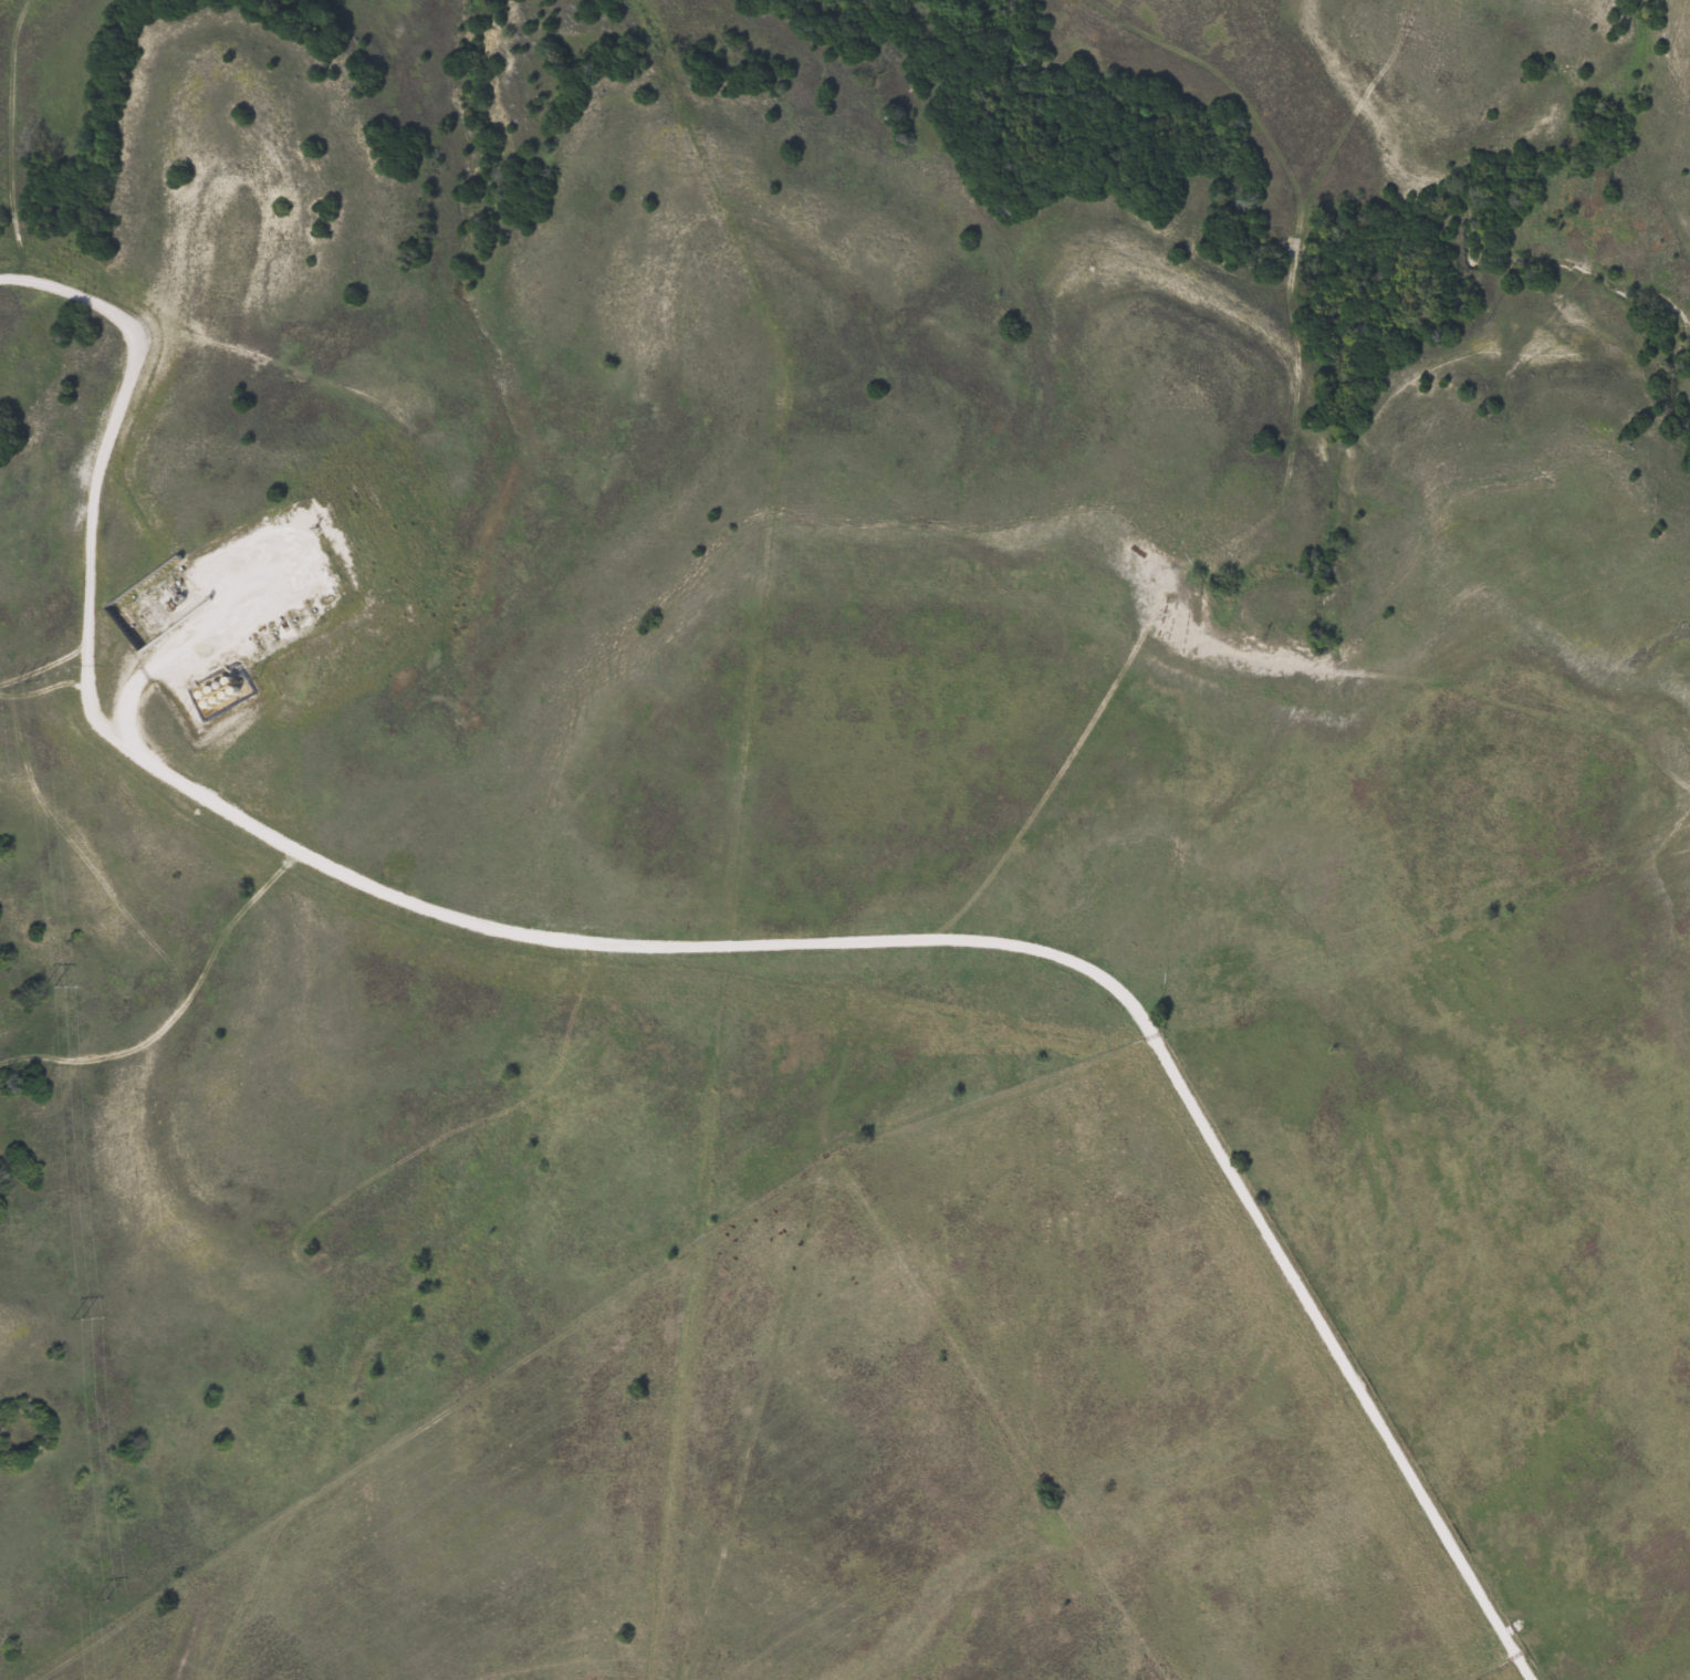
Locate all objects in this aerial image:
road: (716, 938)

